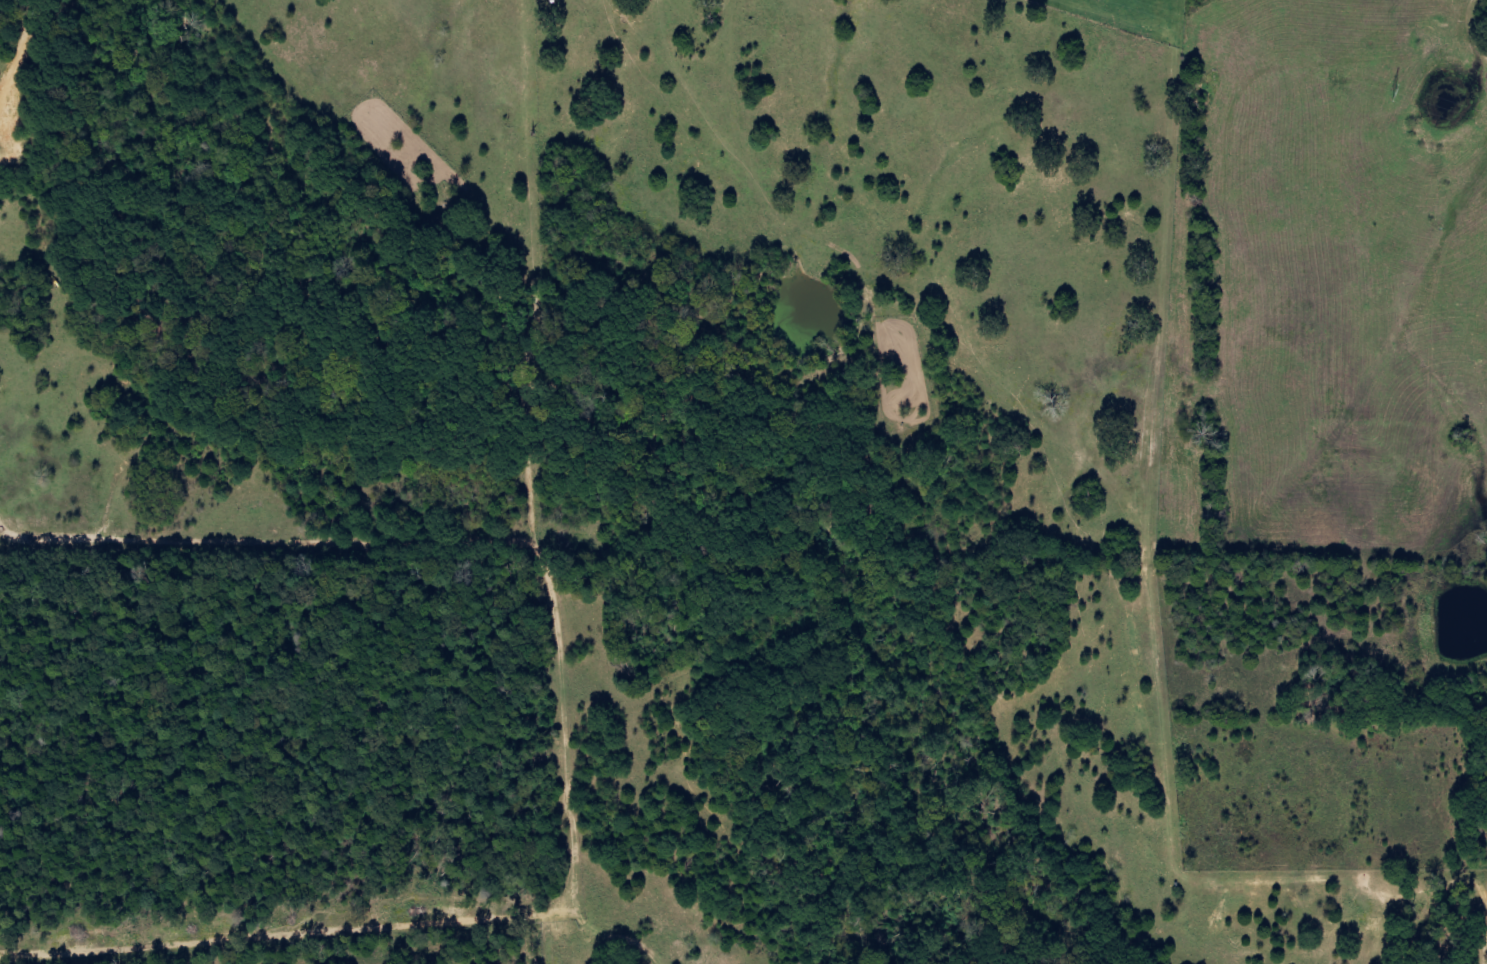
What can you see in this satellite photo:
power tower: (1395, 93)

